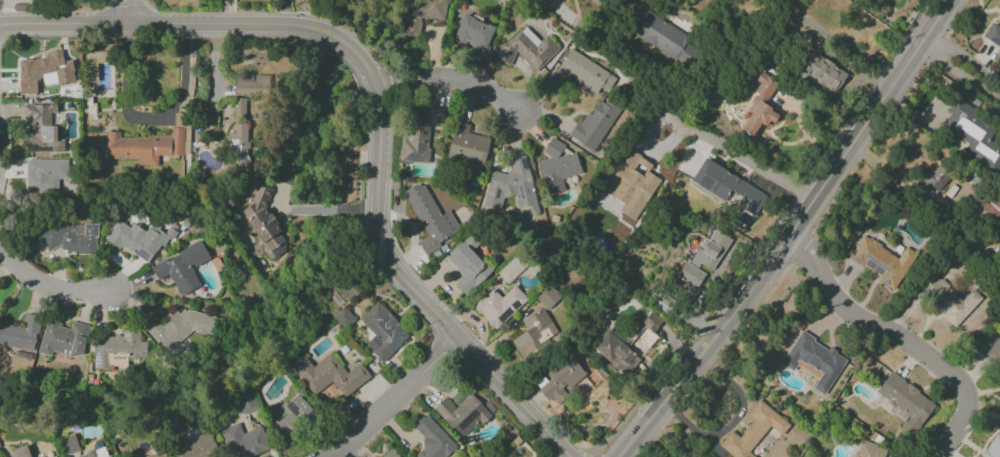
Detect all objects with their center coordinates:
road: (129, 11)
building: (419, 15)
road: (197, 23)
building: (474, 34)
building: (659, 34)
building: (993, 34)
road: (833, 41)
building: (527, 49)
road: (963, 62)
building: (43, 72)
building: (584, 73)
building: (823, 73)
road: (213, 76)
road: (963, 77)
road: (451, 82)
building: (252, 84)
road: (180, 92)
building: (760, 106)
building: (239, 110)
building: (595, 123)
building: (40, 128)
rooftop solar panel: (49, 132)
building: (419, 135)
road: (694, 135)
building: (973, 135)
building: (239, 144)
building: (144, 146)
rooftop solar panel: (419, 146)
building: (467, 148)
rooftop solar panel: (36, 149)
rooftop solar panel: (414, 158)
rooftop solar panel: (523, 164)
building: (557, 167)
building: (45, 174)
building: (934, 180)
building: (629, 182)
building: (727, 186)
building: (512, 187)
rooftop solar panel: (519, 192)
road: (279, 206)
road: (356, 209)
road: (313, 210)
building: (429, 219)
road: (790, 232)
building: (69, 237)
building: (139, 239)
building: (711, 249)
building: (882, 261)
building: (468, 265)
rooftop solar panel: (462, 267)
building: (181, 268)
building: (511, 269)
building: (690, 280)
road: (48, 285)
road: (415, 291)
building: (548, 297)
building: (946, 298)
rooftop solar panel: (516, 304)
building: (499, 305)
rooftop solar panel: (509, 310)
building: (343, 318)
building: (178, 327)
building: (382, 332)
building: (534, 332)
building: (20, 334)
rooftop solar panel: (126, 335)
road: (899, 338)
building: (63, 339)
building: (626, 345)
building: (117, 348)
building: (994, 352)
rooftop solar panel: (64, 356)
rooftop solar panel: (97, 360)
building: (814, 360)
building: (329, 375)
building: (562, 379)
road: (393, 398)
building: (246, 400)
building: (906, 404)
rooftop solar panel: (292, 408)
building: (464, 413)
building: (292, 415)
road: (982, 416)
rooftop solar panel: (278, 417)
rooftop solar panel: (467, 420)
road: (732, 421)
building: (753, 431)
building: (432, 440)
building: (243, 441)
building: (68, 445)
building: (195, 447)
building: (992, 448)
building: (868, 450)
building: (20, 452)
building: (156, 454)
building: (391, 454)
building: (53, 456)

